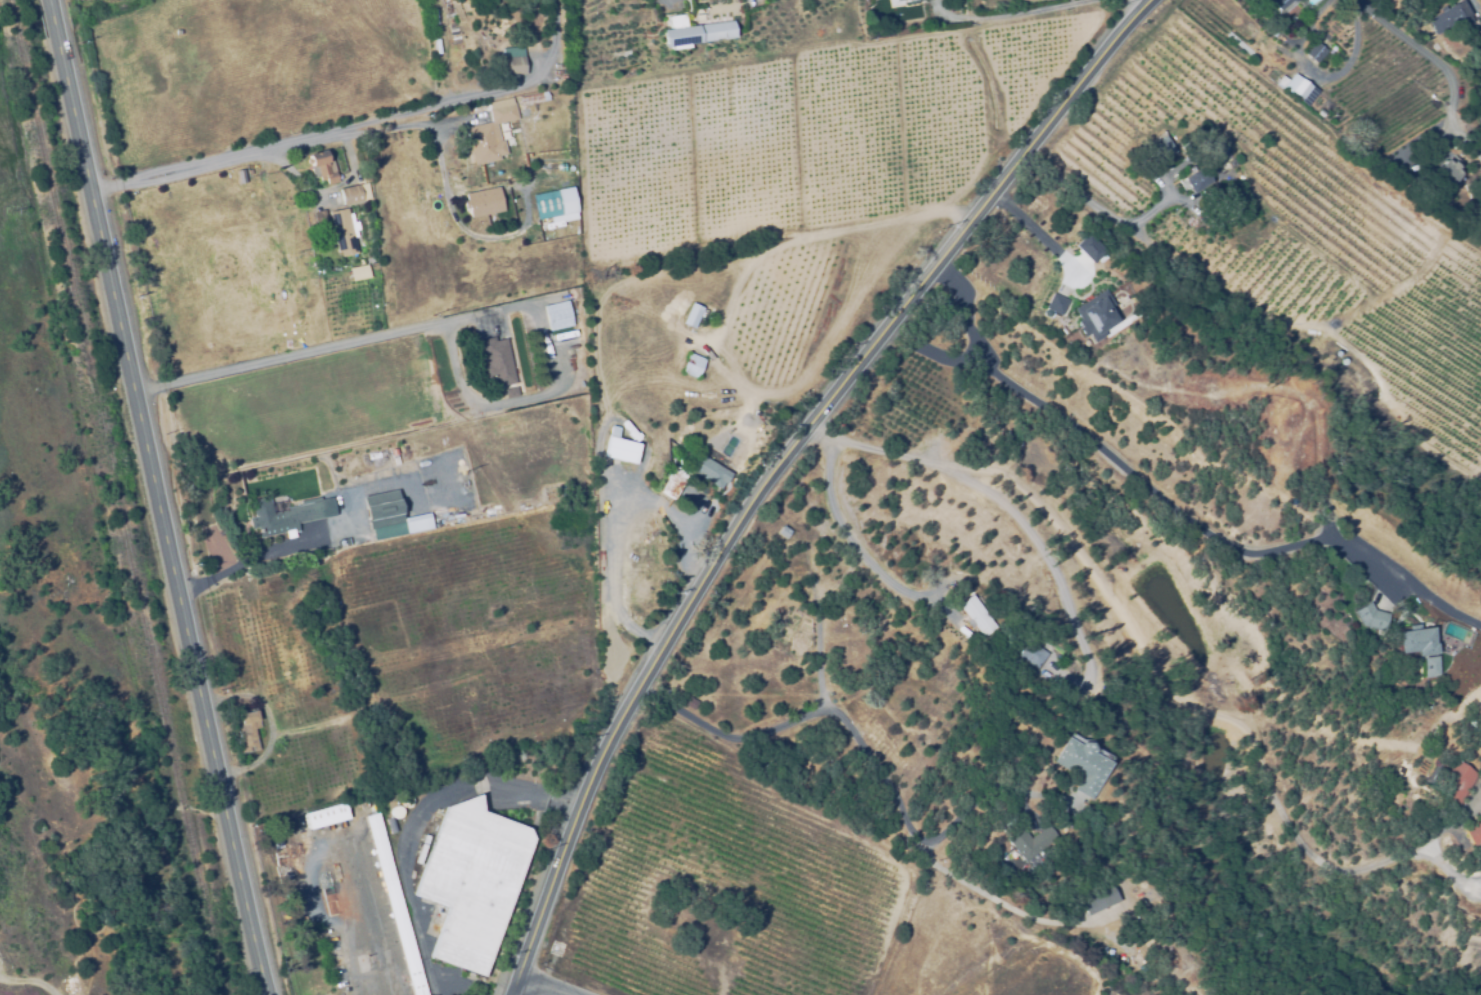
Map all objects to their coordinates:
road: (673, 1)
building: (900, 3)
building: (1279, 5)
road: (1009, 15)
building: (1445, 22)
building: (699, 32)
road: (556, 50)
building: (1315, 52)
road: (1438, 65)
building: (514, 67)
road: (1318, 77)
building: (1299, 89)
building: (530, 100)
building: (489, 133)
road: (307, 139)
building: (1161, 143)
building: (1218, 151)
building: (451, 152)
building: (259, 169)
building: (323, 169)
building: (1445, 171)
building: (1195, 181)
building: (354, 194)
building: (485, 201)
building: (545, 205)
road: (1096, 208)
building: (319, 219)
building: (342, 233)
road: (821, 235)
building: (358, 274)
building: (1053, 305)
building: (691, 316)
building: (1095, 316)
building: (557, 317)
road: (338, 346)
building: (496, 362)
road: (442, 364)
building: (691, 367)
building: (546, 368)
building: (511, 394)
building: (592, 408)
building: (621, 451)
road: (1115, 458)
road: (779, 467)
building: (709, 473)
building: (673, 484)
railway: (117, 497)
road: (155, 497)
building: (384, 513)
building: (281, 517)
building: (341, 541)
road: (853, 543)
road: (1045, 554)
road: (256, 560)
building: (943, 593)
building: (977, 617)
building: (1369, 624)
building: (1414, 648)
building: (1032, 655)
road: (1154, 666)
building: (1431, 666)
building: (1049, 672)
building: (246, 732)
road: (878, 762)
building: (1082, 766)
building: (1460, 784)
road: (985, 806)
building: (396, 811)
building: (325, 817)
road: (415, 822)
building: (1473, 833)
building: (1030, 842)
building: (471, 881)
building: (1099, 898)
building: (394, 905)
road: (373, 932)
road: (540, 986)

